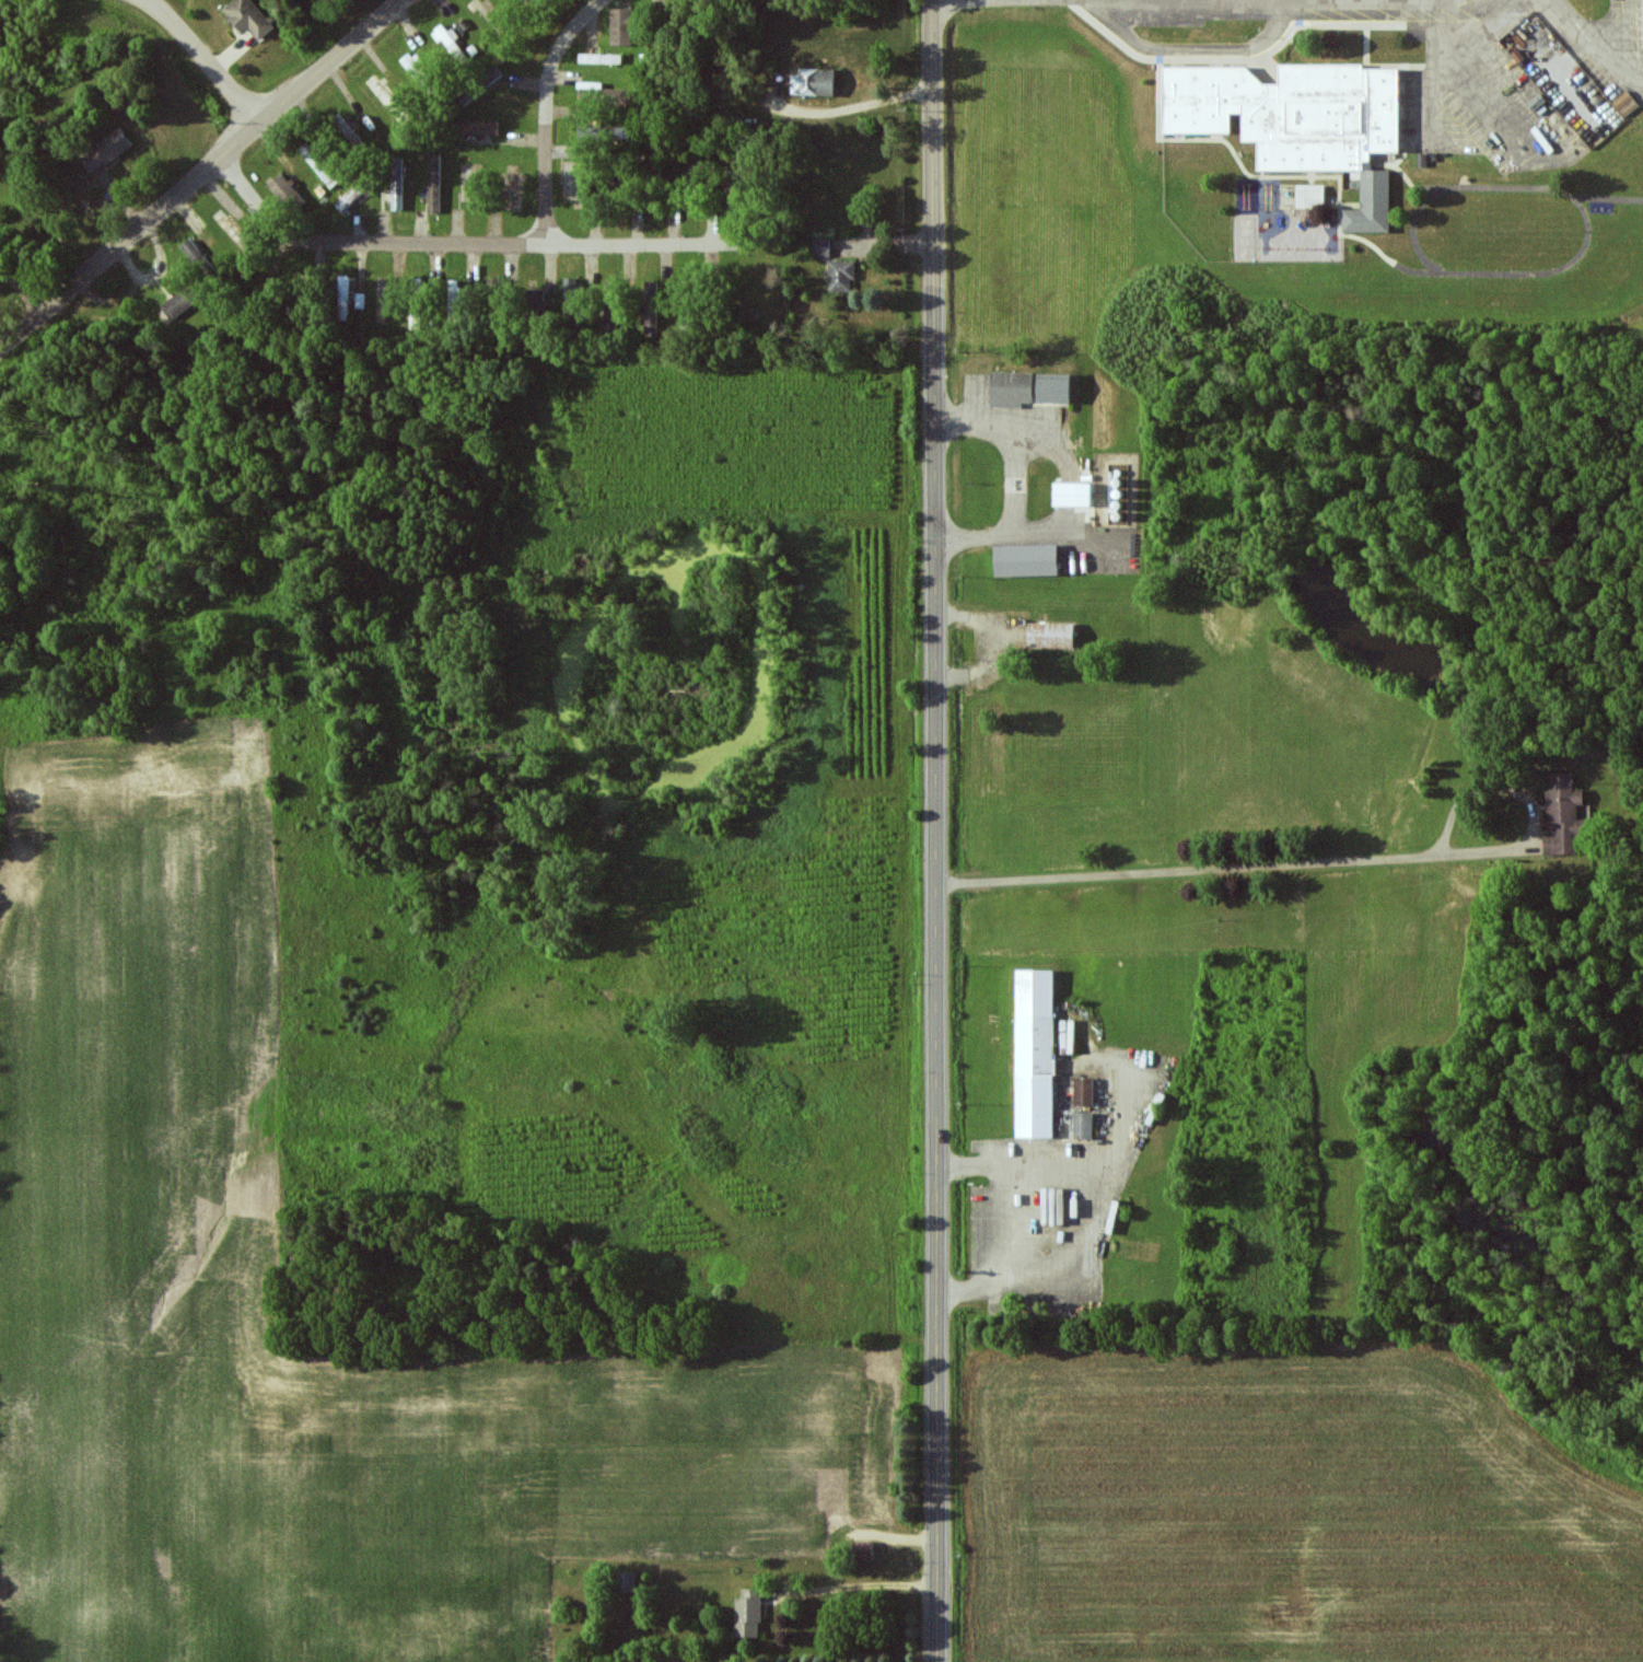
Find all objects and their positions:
road: (1070, 1)
road: (1050, 2)
building: (248, 18)
building: (622, 26)
road: (1597, 37)
building: (448, 40)
road: (1195, 48)
road: (206, 59)
building: (491, 77)
building: (815, 82)
building: (605, 93)
building: (1627, 104)
road: (547, 113)
building: (1302, 121)
building: (478, 127)
building: (619, 133)
building: (106, 150)
road: (214, 165)
building: (319, 165)
road: (937, 171)
building: (434, 183)
building: (397, 185)
building: (284, 190)
building: (1312, 196)
building: (348, 199)
road: (365, 243)
road: (632, 246)
building: (823, 247)
building: (197, 257)
building: (842, 277)
building: (573, 297)
building: (343, 298)
building: (453, 301)
building: (533, 302)
building: (177, 304)
building: (652, 306)
road: (13, 340)
building: (1059, 388)
building: (1013, 390)
building: (1074, 496)
building: (1028, 560)
building: (1052, 636)
building: (1564, 816)
road: (1225, 868)
road: (939, 1002)
building: (1035, 1053)
building: (1084, 1091)
building: (1084, 1125)
building: (863, 1550)
building: (626, 1582)
road: (865, 1591)
building: (748, 1614)

